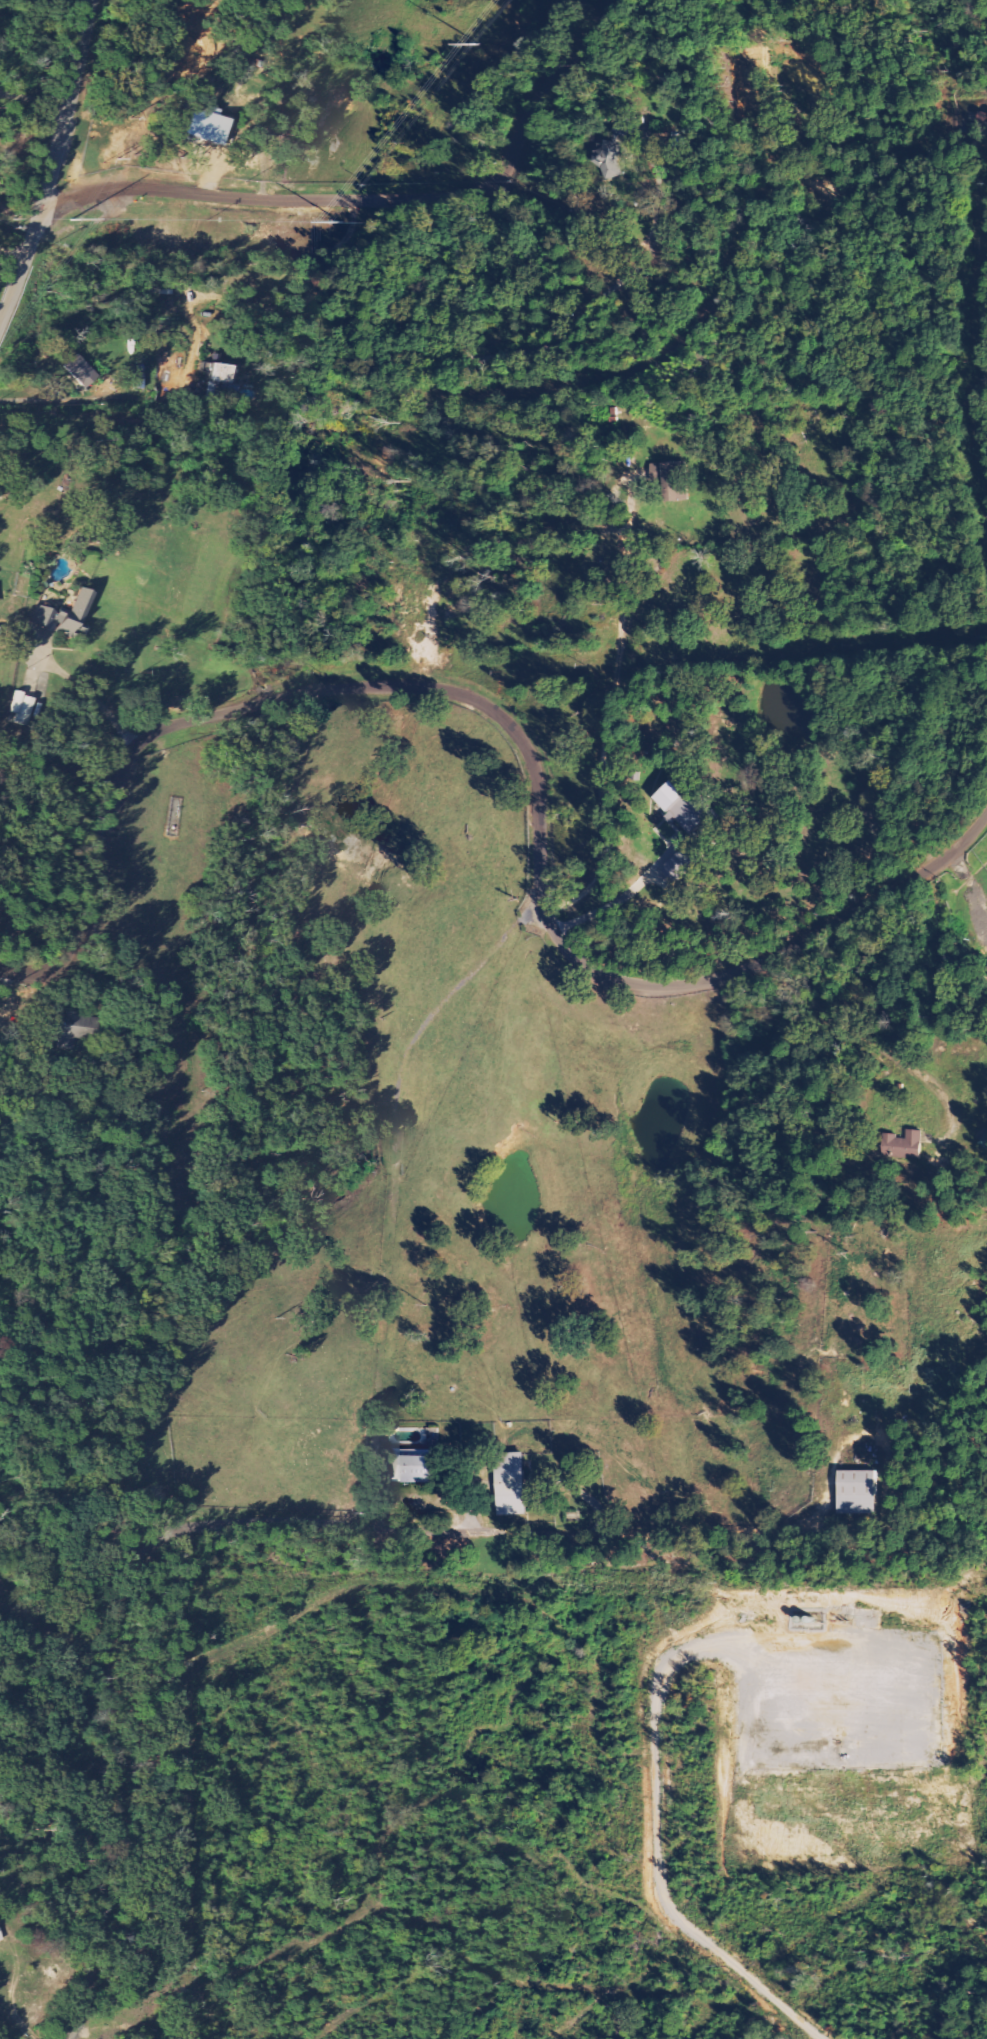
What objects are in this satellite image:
power tower: (479, 43)
building: (205, 128)
building: (613, 160)
road: (54, 163)
road: (369, 199)
power tower: (70, 221)
power tower: (341, 223)
road: (13, 252)
building: (82, 371)
building: (219, 382)
road: (527, 389)
building: (676, 479)
building: (66, 615)
building: (0, 632)
road: (92, 697)
building: (23, 708)
road: (518, 733)
building: (689, 807)
building: (683, 865)
building: (69, 1025)
building: (985, 1143)
building: (905, 1146)
building: (417, 1469)
building: (515, 1484)
building: (861, 1493)
road: (276, 1524)
road: (394, 1908)
building: (0, 1938)

